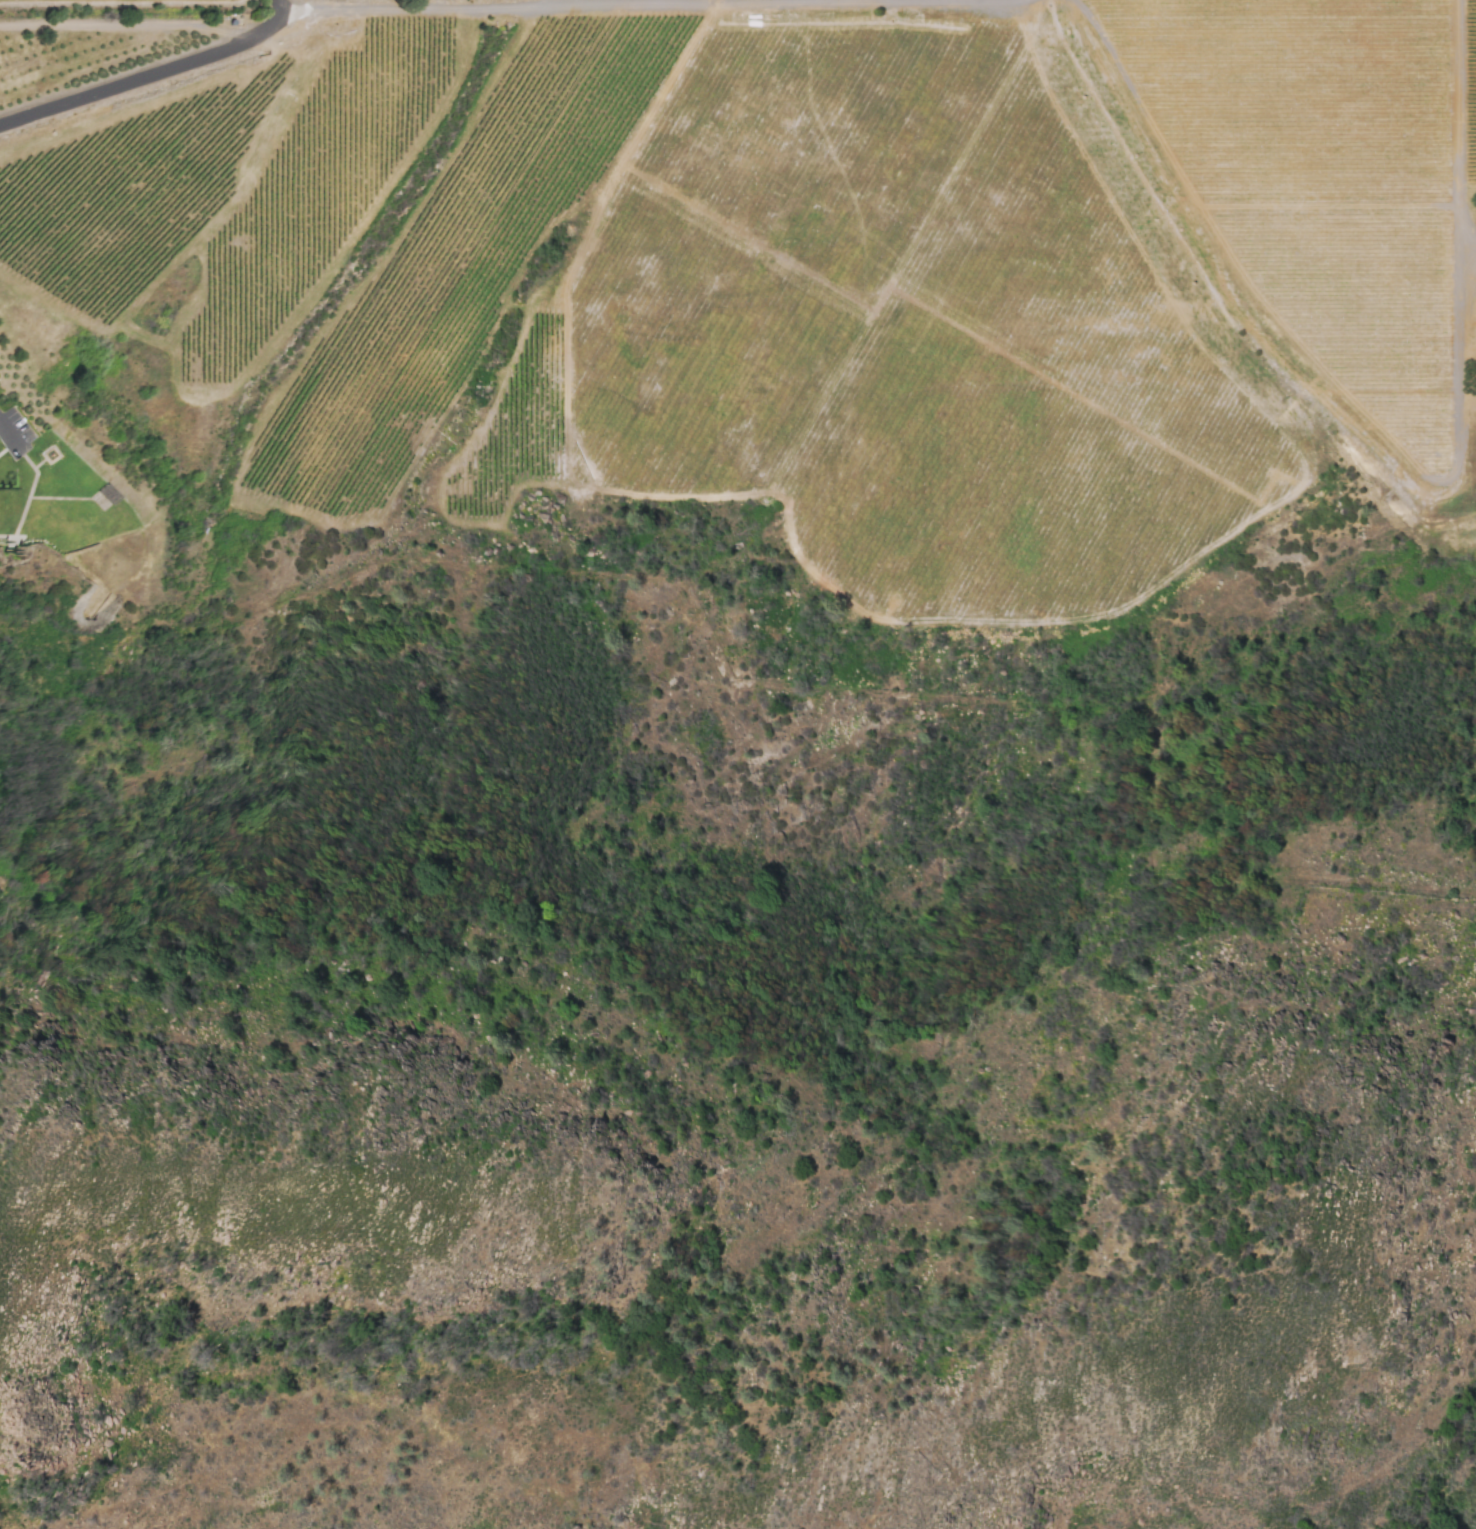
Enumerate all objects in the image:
road: (149, 75)

